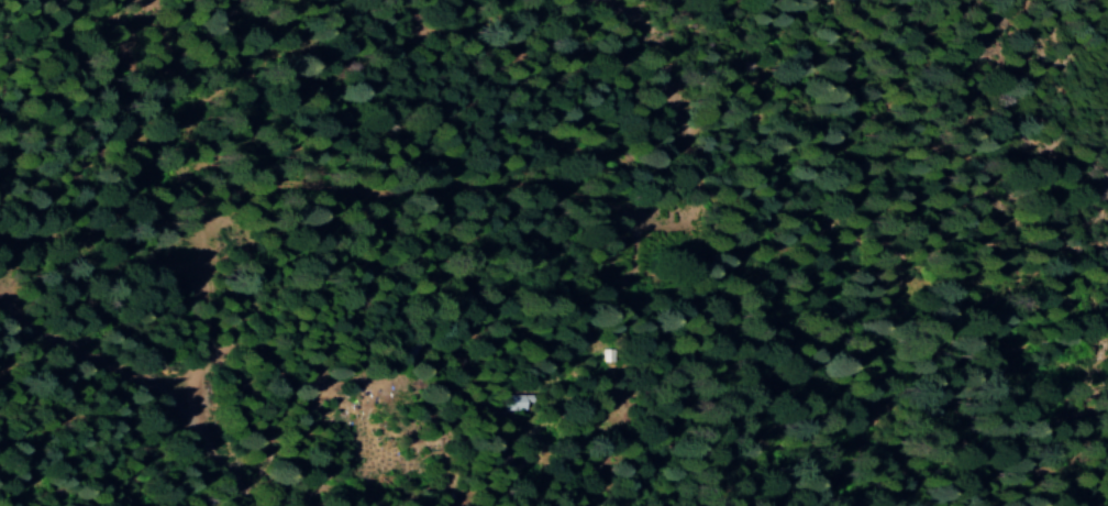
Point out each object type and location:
road: (151, 385)

